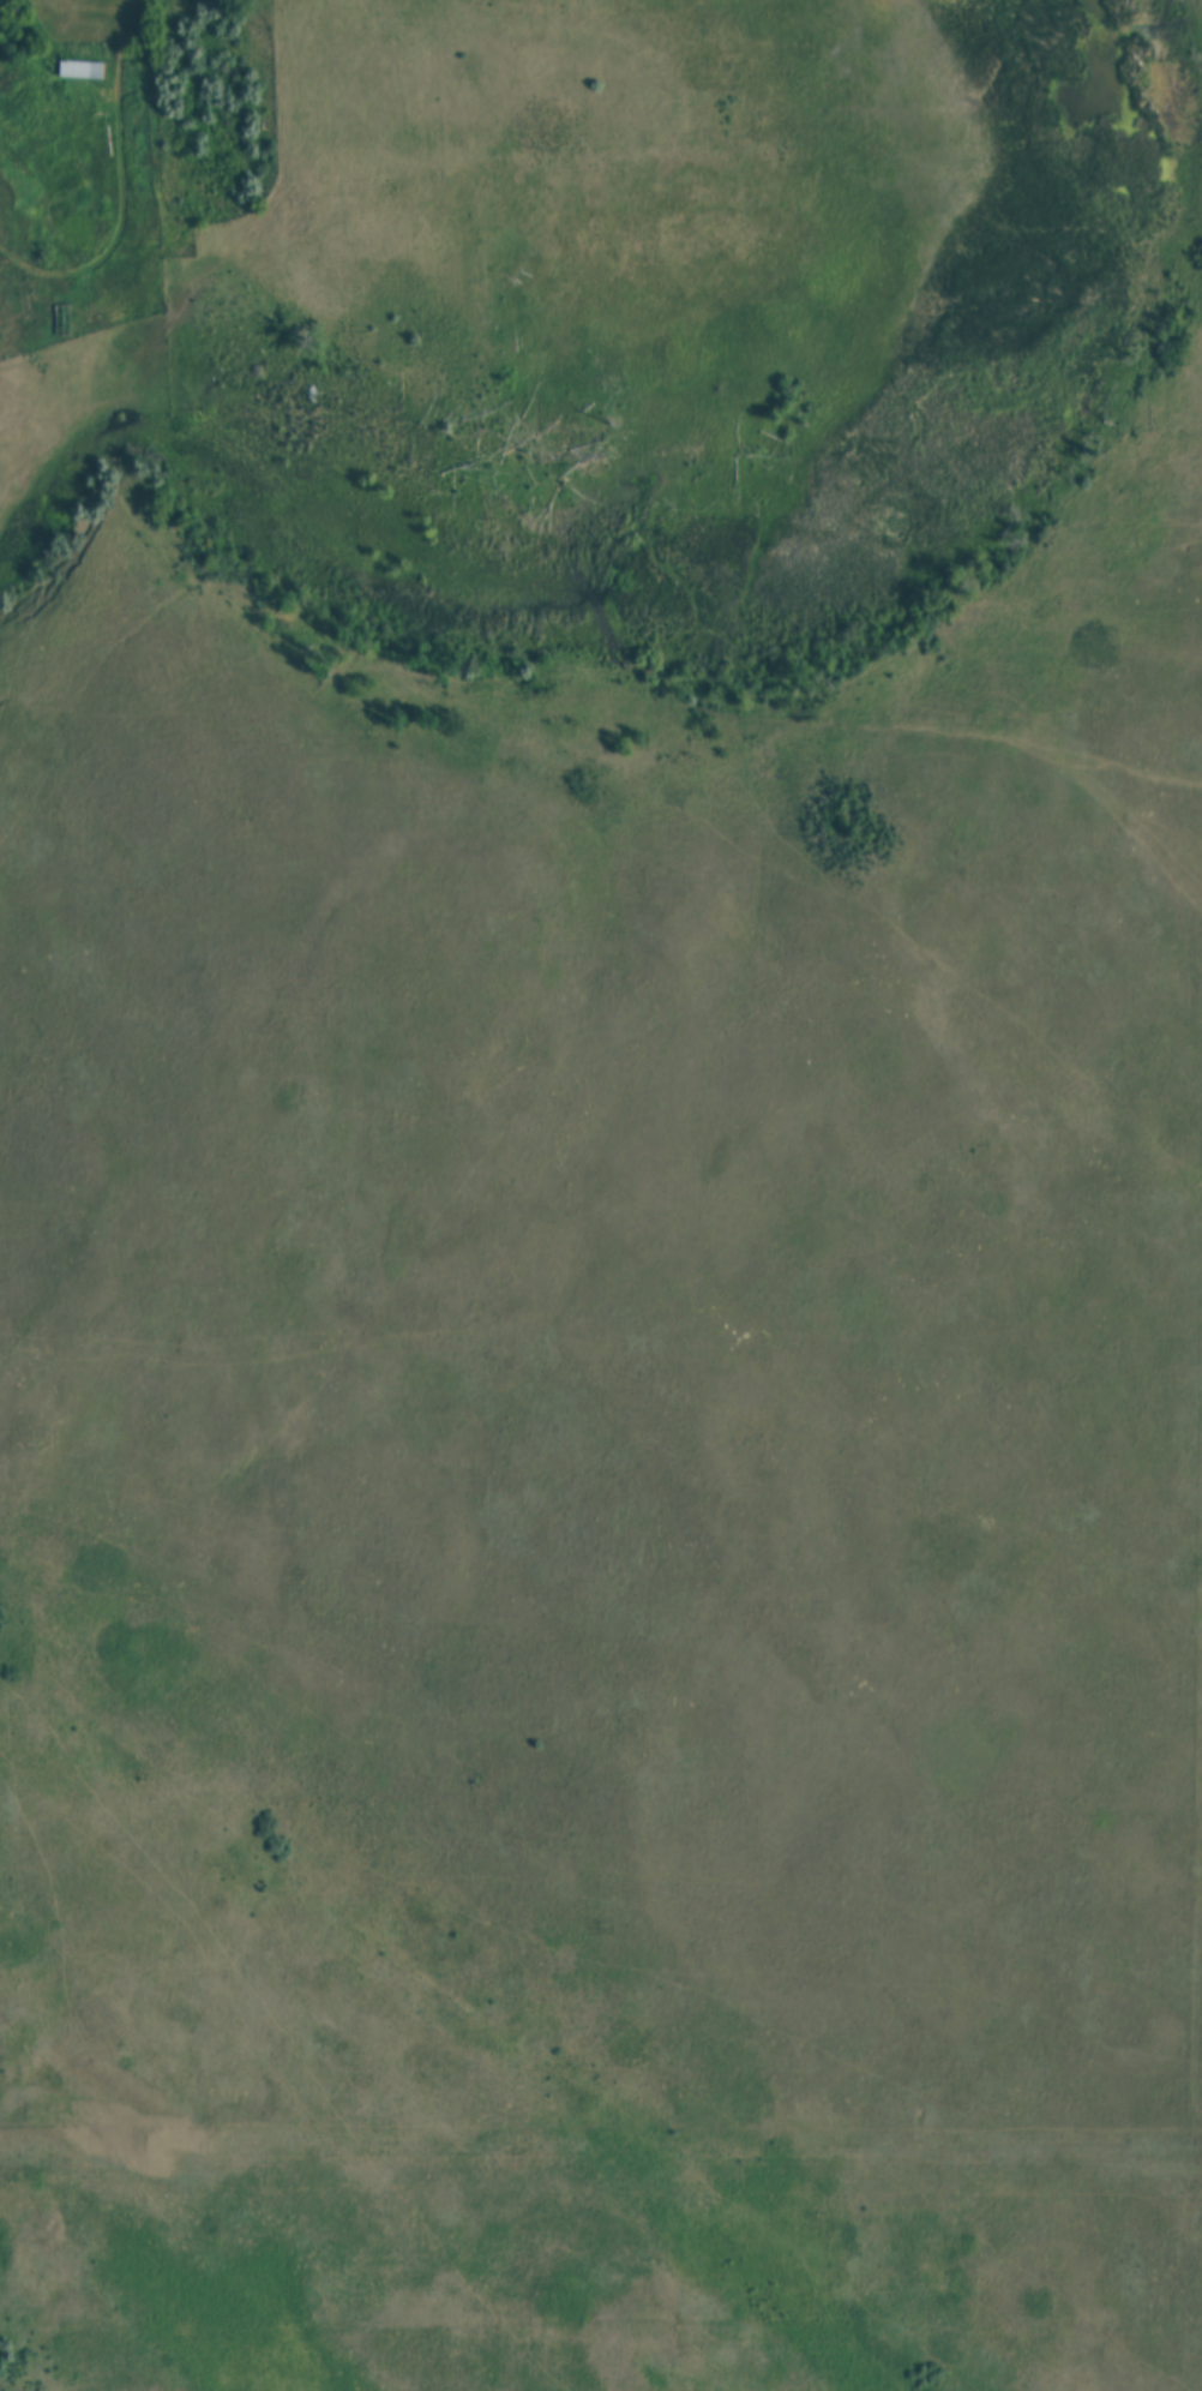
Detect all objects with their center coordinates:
building: (82, 70)
building: (62, 319)

